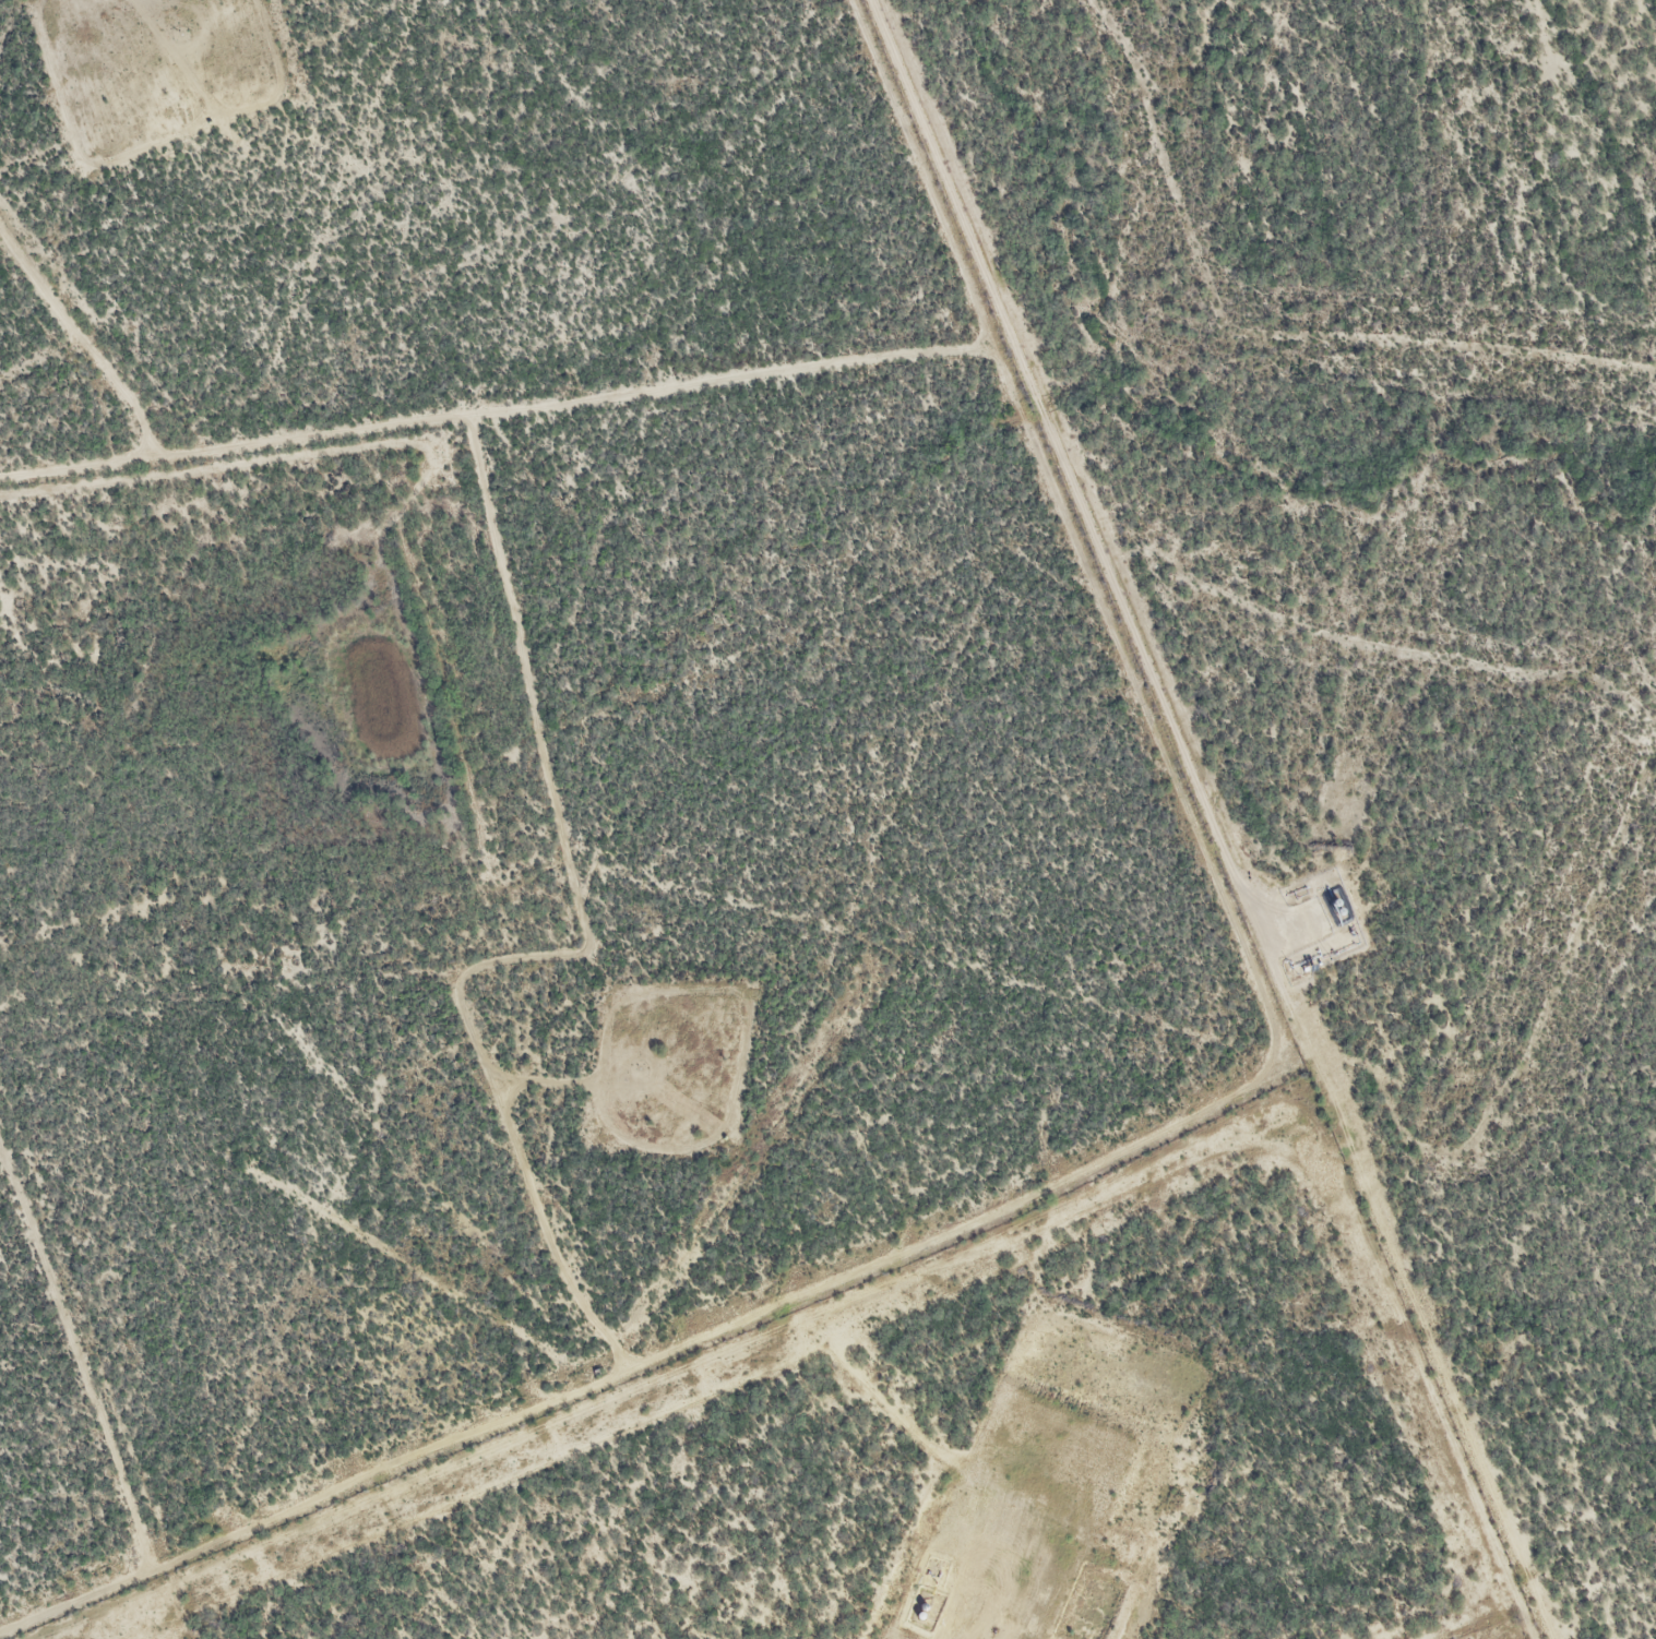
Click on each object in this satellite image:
road: (1069, 500)
road: (998, 1542)

